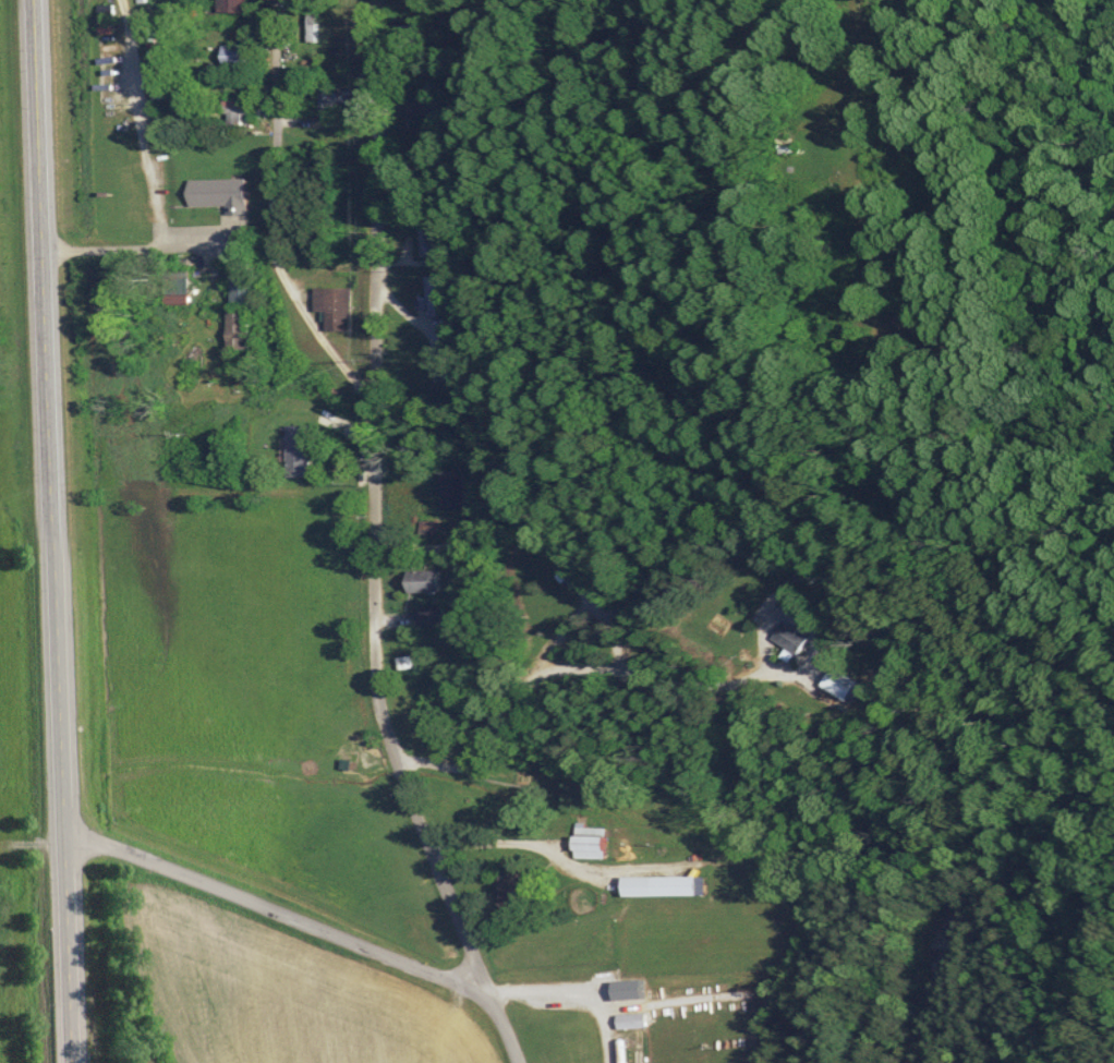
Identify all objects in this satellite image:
building: (238, 4)
road: (850, 11)
building: (293, 14)
building: (312, 23)
building: (292, 40)
building: (238, 55)
building: (341, 98)
building: (241, 108)
road: (326, 121)
road: (275, 131)
building: (787, 143)
building: (220, 192)
building: (424, 240)
building: (245, 288)
building: (429, 297)
building: (334, 306)
building: (240, 328)
road: (325, 334)
building: (443, 362)
building: (299, 450)
building: (456, 491)
road: (51, 531)
road: (377, 543)
building: (426, 581)
building: (432, 617)
building: (792, 638)
building: (841, 685)
building: (592, 843)
building: (668, 886)
building: (512, 887)
road: (275, 910)
road: (570, 993)
building: (635, 1020)
building: (625, 1051)

